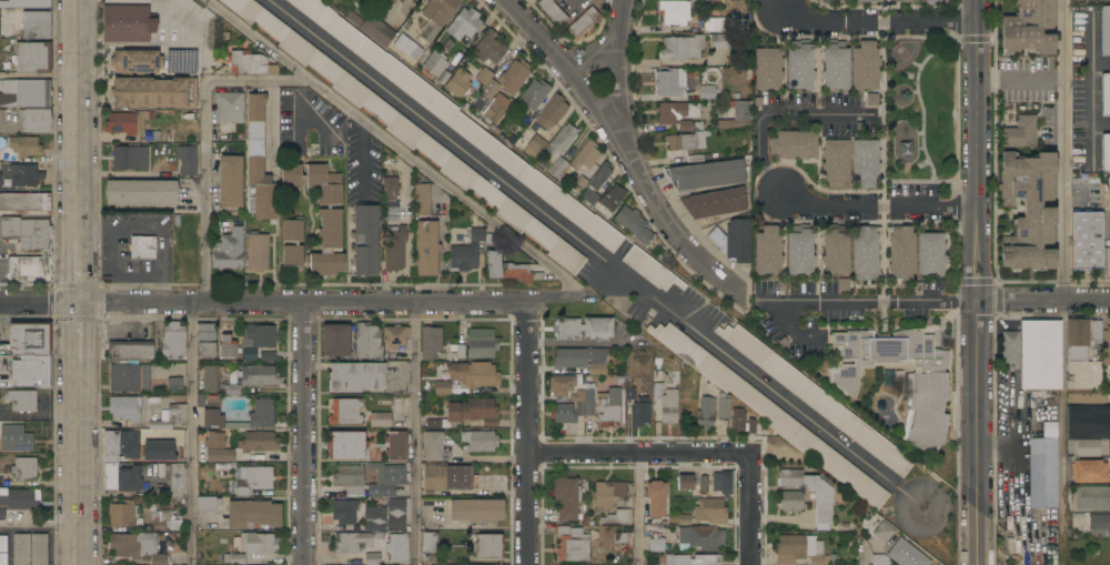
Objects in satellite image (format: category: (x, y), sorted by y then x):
road: (619, 1)
building: (836, 1)
building: (862, 1)
building: (901, 1)
building: (931, 2)
building: (24, 4)
road: (770, 6)
building: (553, 11)
building: (679, 11)
building: (437, 16)
building: (583, 22)
road: (874, 22)
building: (127, 23)
building: (464, 24)
building: (714, 24)
building: (36, 26)
building: (370, 26)
building: (1029, 28)
building: (1106, 31)
building: (744, 39)
road: (605, 42)
building: (718, 42)
building: (407, 47)
building: (490, 48)
building: (682, 48)
building: (32, 58)
building: (181, 60)
building: (133, 62)
building: (435, 62)
building: (248, 64)
building: (835, 65)
building: (800, 67)
building: (866, 67)
building: (767, 69)
building: (273, 70)
road: (39, 75)
building: (484, 77)
building: (514, 77)
road: (617, 78)
building: (670, 82)
building: (458, 83)
building: (153, 92)
building: (24, 93)
building: (707, 93)
building: (486, 94)
building: (534, 94)
building: (1106, 94)
building: (230, 108)
building: (496, 109)
building: (552, 112)
building: (676, 112)
road: (774, 114)
building: (36, 120)
building: (456, 120)
road: (271, 122)
building: (731, 123)
road: (78, 124)
building: (130, 125)
building: (689, 127)
road: (1102, 127)
building: (407, 133)
building: (1020, 133)
building: (562, 140)
building: (685, 141)
road: (204, 142)
building: (793, 145)
building: (24, 147)
road: (398, 147)
building: (534, 147)
road: (622, 147)
road: (1063, 150)
building: (1106, 153)
building: (585, 158)
building: (130, 159)
building: (186, 160)
building: (836, 163)
building: (866, 163)
building: (259, 165)
building: (558, 168)
building: (0, 175)
building: (24, 175)
road: (125, 175)
building: (706, 175)
building: (333, 179)
building: (231, 182)
building: (579, 184)
building: (595, 184)
building: (390, 189)
building: (141, 192)
building: (612, 198)
building: (422, 200)
building: (24, 202)
building: (714, 204)
road: (877, 210)
building: (1030, 211)
building: (1107, 214)
building: (321, 216)
building: (634, 225)
building: (733, 240)
building: (366, 241)
building: (1087, 241)
building: (296, 244)
building: (143, 248)
building: (28, 249)
building: (394, 249)
building: (427, 249)
building: (230, 250)
building: (768, 251)
building: (259, 252)
building: (466, 252)
building: (800, 252)
building: (836, 252)
building: (865, 253)
building: (901, 253)
building: (930, 253)
road: (594, 254)
road: (977, 254)
building: (1107, 263)
building: (506, 269)
building: (650, 270)
road: (78, 275)
railway: (646, 282)
road: (603, 283)
road: (557, 297)
road: (881, 300)
road: (1043, 301)
road: (263, 302)
road: (781, 322)
road: (78, 326)
building: (567, 329)
building: (597, 329)
building: (1097, 334)
building: (262, 336)
building: (395, 336)
building: (28, 340)
building: (206, 341)
building: (335, 341)
building: (173, 342)
building: (367, 342)
building: (431, 343)
building: (482, 344)
building: (228, 346)
building: (1106, 346)
building: (131, 351)
building: (1033, 354)
building: (250, 355)
building: (571, 357)
building: (1080, 359)
building: (598, 362)
building: (33, 370)
building: (474, 374)
building: (259, 376)
building: (356, 376)
road: (526, 376)
building: (130, 379)
building: (211, 379)
building: (174, 383)
building: (443, 389)
building: (230, 390)
building: (927, 392)
building: (1086, 396)
building: (571, 398)
building: (22, 400)
building: (817, 400)
building: (666, 403)
building: (724, 405)
building: (608, 407)
building: (125, 408)
building: (345, 412)
building: (473, 412)
building: (179, 413)
building: (706, 413)
building: (213, 414)
building: (262, 414)
building: (640, 414)
building: (769, 414)
building: (380, 420)
building: (738, 421)
building: (160, 425)
building: (750, 425)
building: (1088, 431)
road: (303, 433)
road: (191, 434)
road: (415, 434)
building: (20, 437)
building: (215, 441)
building: (258, 442)
building: (480, 442)
building: (345, 445)
building: (396, 445)
building: (433, 446)
building: (158, 451)
road: (638, 453)
building: (221, 455)
road: (79, 457)
building: (111, 461)
building: (24, 468)
building: (1090, 472)
building: (1042, 473)
building: (264, 478)
building: (176, 480)
building: (351, 480)
building: (446, 480)
building: (0, 481)
building: (387, 481)
building: (475, 483)
building: (686, 483)
building: (722, 483)
building: (703, 484)
building: (608, 495)
building: (824, 497)
building: (19, 498)
building: (566, 498)
building: (657, 498)
building: (1092, 498)
building: (791, 502)
building: (208, 504)
road: (527, 508)
road: (638, 508)
road: (749, 509)
building: (476, 511)
building: (344, 512)
building: (710, 512)
building: (1, 513)
building: (253, 514)
building: (396, 514)
building: (123, 515)
building: (623, 516)
building: (374, 518)
building: (685, 519)
building: (163, 521)
road: (40, 525)
building: (1099, 525)
building: (884, 532)
road: (975, 537)
building: (620, 538)
building: (700, 538)
building: (353, 543)
building: (3, 544)
building: (258, 544)
building: (573, 544)
building: (657, 545)
building: (488, 546)
building: (137, 547)
building: (431, 547)
building: (39, 548)
building: (398, 548)
building: (796, 548)
building: (21, 549)
road: (865, 554)
building: (906, 554)
building: (3, 558)
building: (234, 558)
building: (372, 558)
building: (693, 559)
building: (818, 559)
building: (880, 559)

